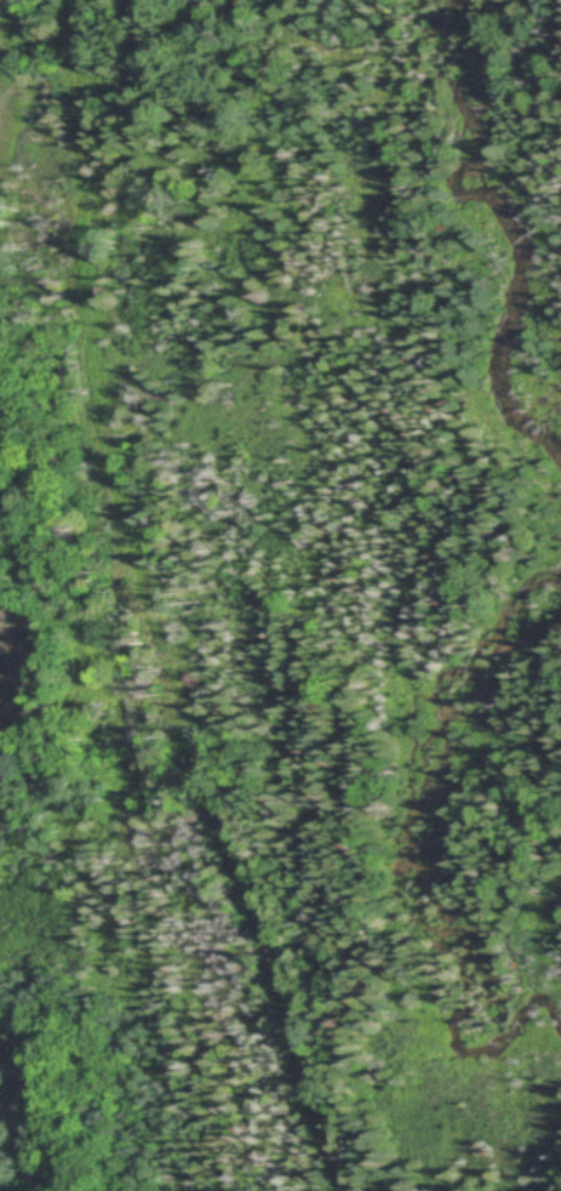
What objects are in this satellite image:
river: (516, 227)
river: (419, 848)

